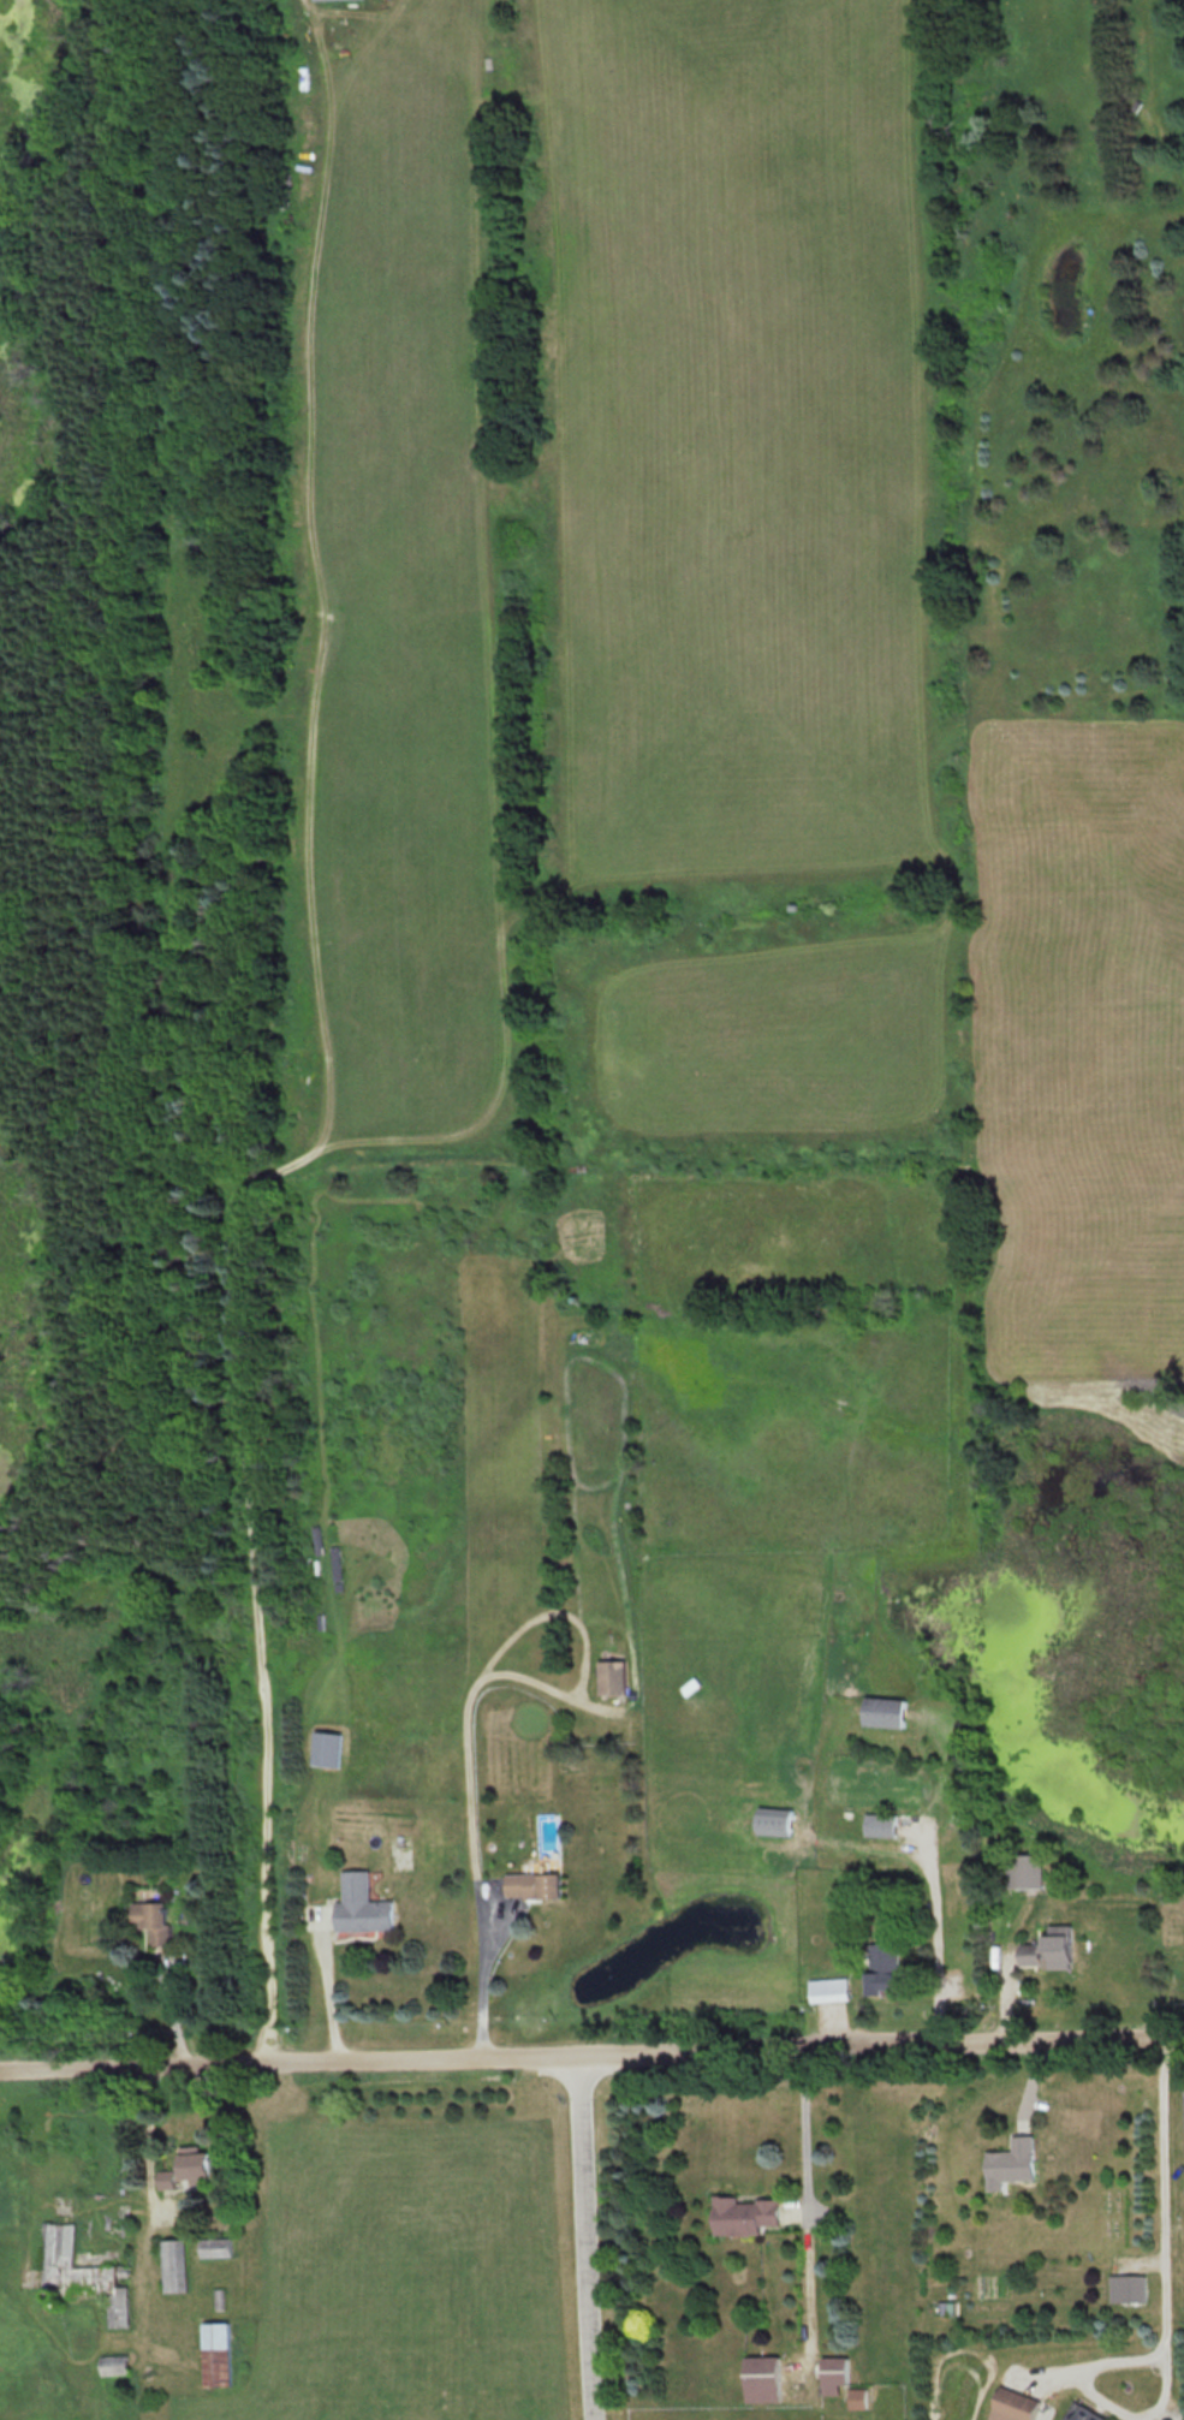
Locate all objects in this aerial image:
road: (314, 1053)
building: (609, 1676)
building: (883, 1712)
road: (459, 1714)
building: (322, 1748)
building: (773, 1824)
building: (880, 1825)
building: (1025, 1871)
building: (531, 1885)
building: (357, 1905)
building: (150, 1921)
road: (934, 1942)
building: (1048, 1949)
building: (882, 1970)
building: (827, 1991)
road: (317, 1992)
road: (591, 2052)
road: (1182, 2070)
road: (139, 2150)
building: (1011, 2164)
building: (195, 2165)
road: (808, 2193)
building: (746, 2214)
road: (583, 2236)
building: (214, 2248)
building: (173, 2266)
building: (82, 2276)
building: (1126, 2288)
road: (1160, 2315)
building: (216, 2354)
building: (114, 2363)
building: (834, 2374)
building: (762, 2378)
building: (857, 2398)
building: (1015, 2407)
building: (1082, 2414)

